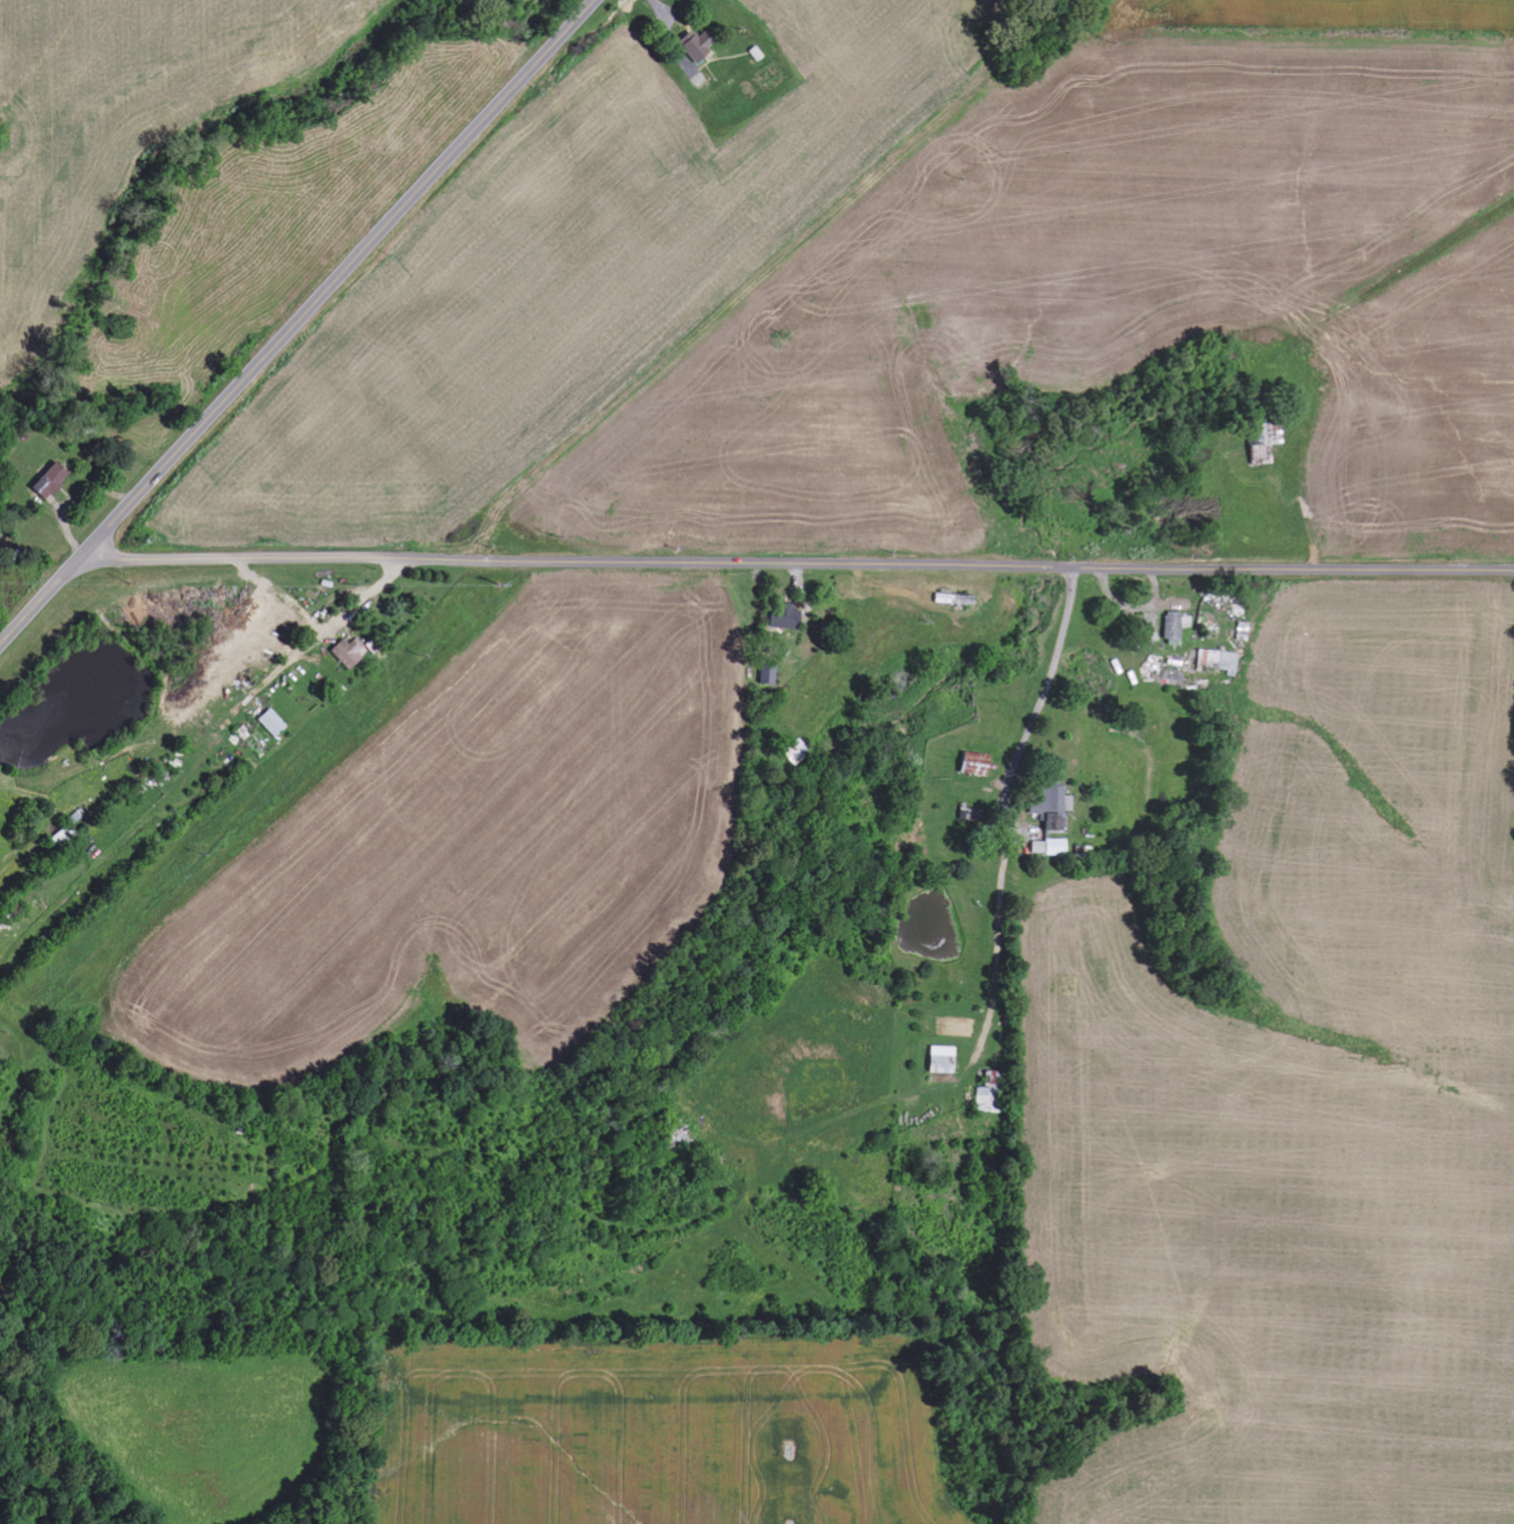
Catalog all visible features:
building: (699, 46)
road: (296, 321)
building: (53, 482)
road: (798, 561)
road: (372, 605)
building: (1175, 629)
building: (351, 653)
building: (1223, 661)
building: (769, 676)
building: (273, 723)
road: (1025, 737)
building: (979, 765)

